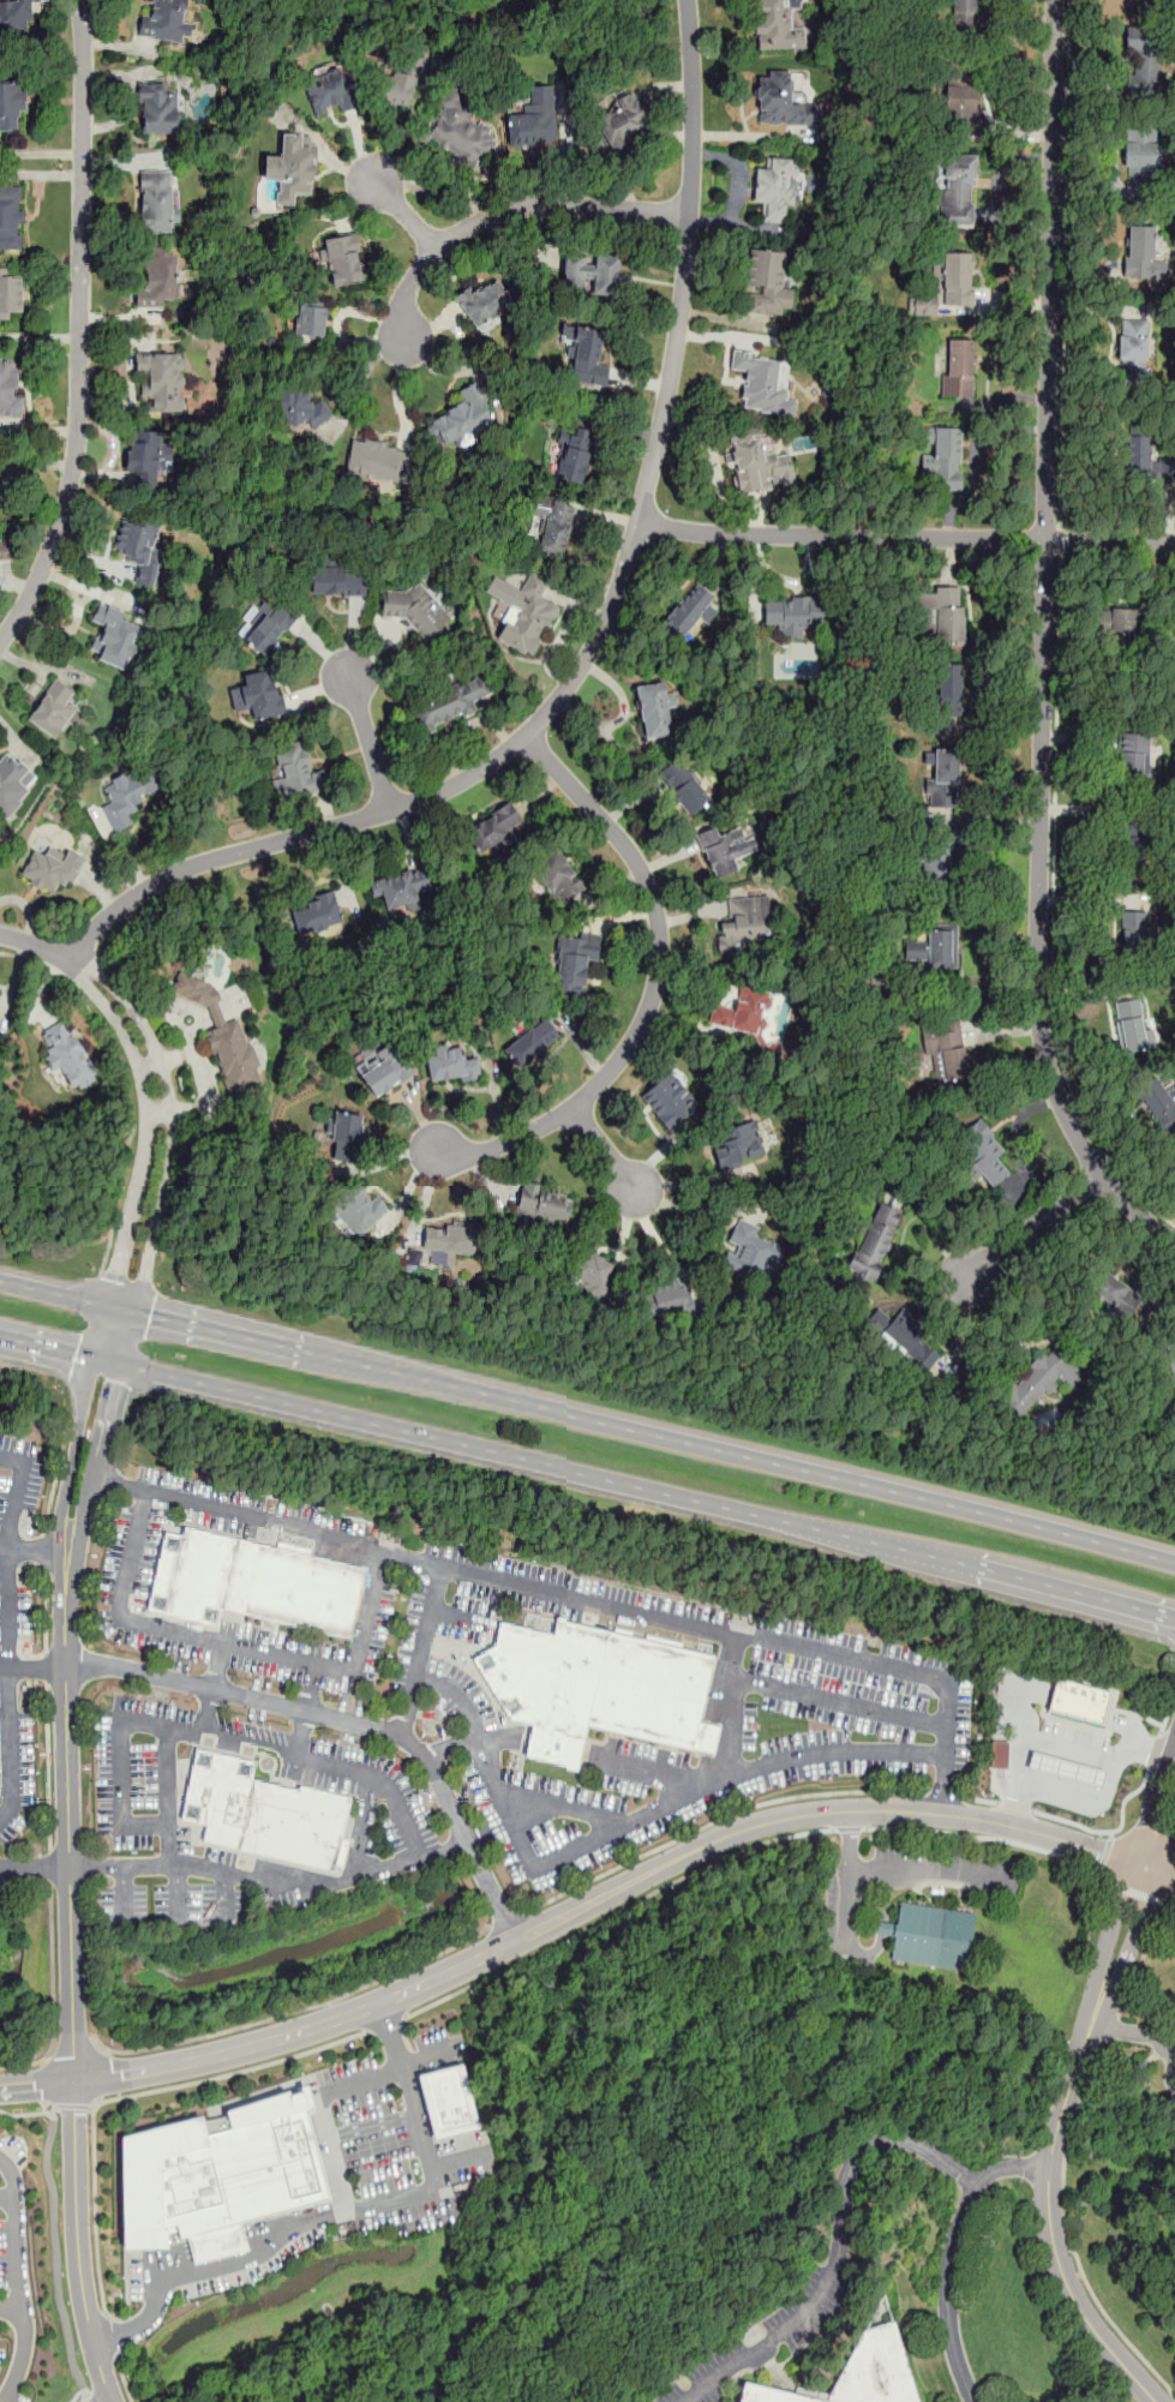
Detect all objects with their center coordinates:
building: (542, 0)
building: (965, 16)
building: (16, 18)
building: (164, 22)
building: (777, 25)
building: (1146, 64)
building: (398, 90)
building: (329, 98)
building: (964, 98)
building: (784, 100)
building: (12, 107)
building: (160, 112)
building: (967, 114)
building: (533, 121)
building: (623, 124)
building: (458, 134)
building: (1139, 155)
building: (290, 170)
building: (775, 190)
building: (959, 190)
building: (157, 204)
road: (398, 210)
road: (503, 215)
building: (11, 220)
building: (1143, 253)
building: (346, 262)
road: (685, 263)
road: (1063, 263)
road: (1049, 269)
building: (592, 271)
building: (959, 280)
building: (160, 281)
building: (767, 283)
building: (10, 295)
building: (922, 305)
building: (484, 306)
building: (310, 324)
road: (80, 328)
building: (1133, 341)
building: (588, 358)
building: (959, 369)
building: (761, 381)
building: (162, 382)
building: (10, 391)
building: (302, 412)
building: (464, 420)
building: (1137, 450)
building: (575, 454)
building: (947, 457)
building: (146, 459)
building: (760, 462)
building: (379, 465)
building: (0, 493)
building: (551, 528)
road: (840, 535)
road: (1060, 540)
road: (1109, 540)
building: (139, 549)
building: (5, 552)
building: (338, 582)
building: (415, 610)
building: (687, 611)
building: (527, 613)
building: (792, 613)
building: (943, 615)
building: (1115, 621)
building: (270, 627)
building: (115, 635)
building: (948, 691)
building: (262, 693)
building: (449, 703)
building: (53, 707)
building: (653, 709)
road: (371, 742)
building: (1132, 756)
building: (298, 772)
building: (943, 775)
building: (11, 783)
building: (684, 787)
building: (127, 793)
road: (407, 804)
building: (497, 823)
building: (1131, 845)
building: (725, 849)
building: (939, 859)
building: (49, 867)
building: (556, 879)
building: (402, 887)
road: (1053, 910)
building: (318, 912)
road: (1037, 914)
building: (1132, 923)
building: (743, 924)
road: (35, 944)
building: (935, 947)
building: (575, 958)
road: (654, 986)
building: (739, 1007)
building: (1131, 1023)
building: (221, 1031)
building: (533, 1042)
building: (949, 1050)
building: (67, 1056)
building: (452, 1065)
building: (383, 1072)
road: (126, 1088)
building: (669, 1098)
building: (1159, 1103)
building: (344, 1136)
building: (735, 1144)
road: (606, 1148)
road: (155, 1149)
building: (982, 1151)
road: (694, 1188)
building: (544, 1208)
building: (360, 1215)
road: (1035, 1226)
building: (442, 1240)
building: (875, 1240)
building: (751, 1252)
building: (591, 1271)
building: (1114, 1295)
building: (667, 1298)
building: (900, 1332)
building: (1171, 1362)
building: (1045, 1374)
building: (1043, 1419)
road: (588, 1421)
road: (55, 1478)
road: (587, 1478)
road: (13, 1520)
road: (4, 1540)
road: (46, 1553)
building: (258, 1587)
road: (582, 1593)
road: (8, 1604)
road: (46, 1625)
road: (239, 1643)
road: (216, 1665)
road: (32, 1666)
road: (46, 1669)
building: (592, 1687)
road: (841, 1701)
building: (1079, 1701)
road: (410, 1708)
road: (205, 1712)
road: (1165, 1720)
road: (348, 1721)
road: (199, 1732)
road: (301, 1735)
road: (10, 1744)
building: (1072, 1745)
road: (451, 1748)
road: (1153, 1750)
road: (835, 1755)
building: (996, 1755)
road: (591, 1760)
road: (47, 1768)
road: (168, 1774)
road: (940, 1793)
road: (1096, 1797)
road: (989, 1801)
road: (1015, 1805)
road: (553, 1807)
building: (266, 1814)
road: (714, 1821)
road: (365, 1827)
road: (847, 1828)
road: (1109, 1832)
road: (983, 1837)
road: (850, 1841)
road: (1108, 1851)
road: (545, 1858)
road: (49, 1865)
road: (34, 1869)
road: (889, 1870)
road: (1161, 1871)
road: (270, 1880)
road: (70, 1882)
road: (1131, 1889)
road: (223, 1894)
road: (174, 1895)
road: (122, 1898)
road: (1170, 1901)
road: (571, 1911)
road: (616, 1913)
road: (504, 1921)
road: (883, 1929)
building: (935, 1933)
road: (1141, 1958)
road: (53, 1995)
road: (292, 2012)
road: (386, 2024)
road: (1114, 2029)
road: (1133, 2032)
road: (73, 2055)
road: (100, 2074)
road: (46, 2080)
road: (127, 2096)
road: (1067, 2098)
building: (446, 2099)
road: (73, 2106)
road: (320, 2112)
road: (26, 2114)
road: (53, 2115)
road: (371, 2125)
road: (378, 2154)
building: (220, 2174)
road: (1119, 2191)
road: (6, 2196)
road: (340, 2214)
road: (1066, 2233)
road: (839, 2244)
road: (218, 2246)
road: (952, 2253)
road: (54, 2257)
road: (18, 2281)
road: (127, 2294)
road: (10, 2307)
road: (109, 2335)
building: (864, 2370)
road: (122, 2378)
road: (76, 2394)
road: (88, 2400)
road: (106, 2400)

